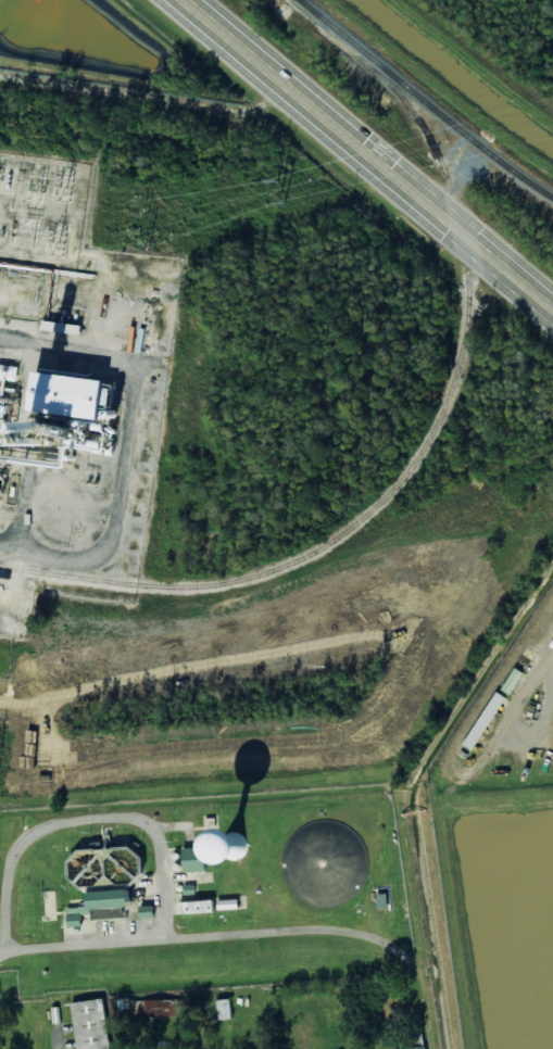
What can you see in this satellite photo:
railway: (425, 100)
road: (369, 151)
power substation: (42, 210)
building: (8, 375)
building: (61, 396)
road: (128, 429)
railway: (422, 445)
building: (485, 720)
building: (232, 845)
building: (193, 859)
wastewater plant: (202, 890)
building: (194, 903)
building: (227, 903)
building: (101, 906)
building: (156, 1008)
building: (224, 1008)
building: (90, 1024)
building: (416, 1041)

